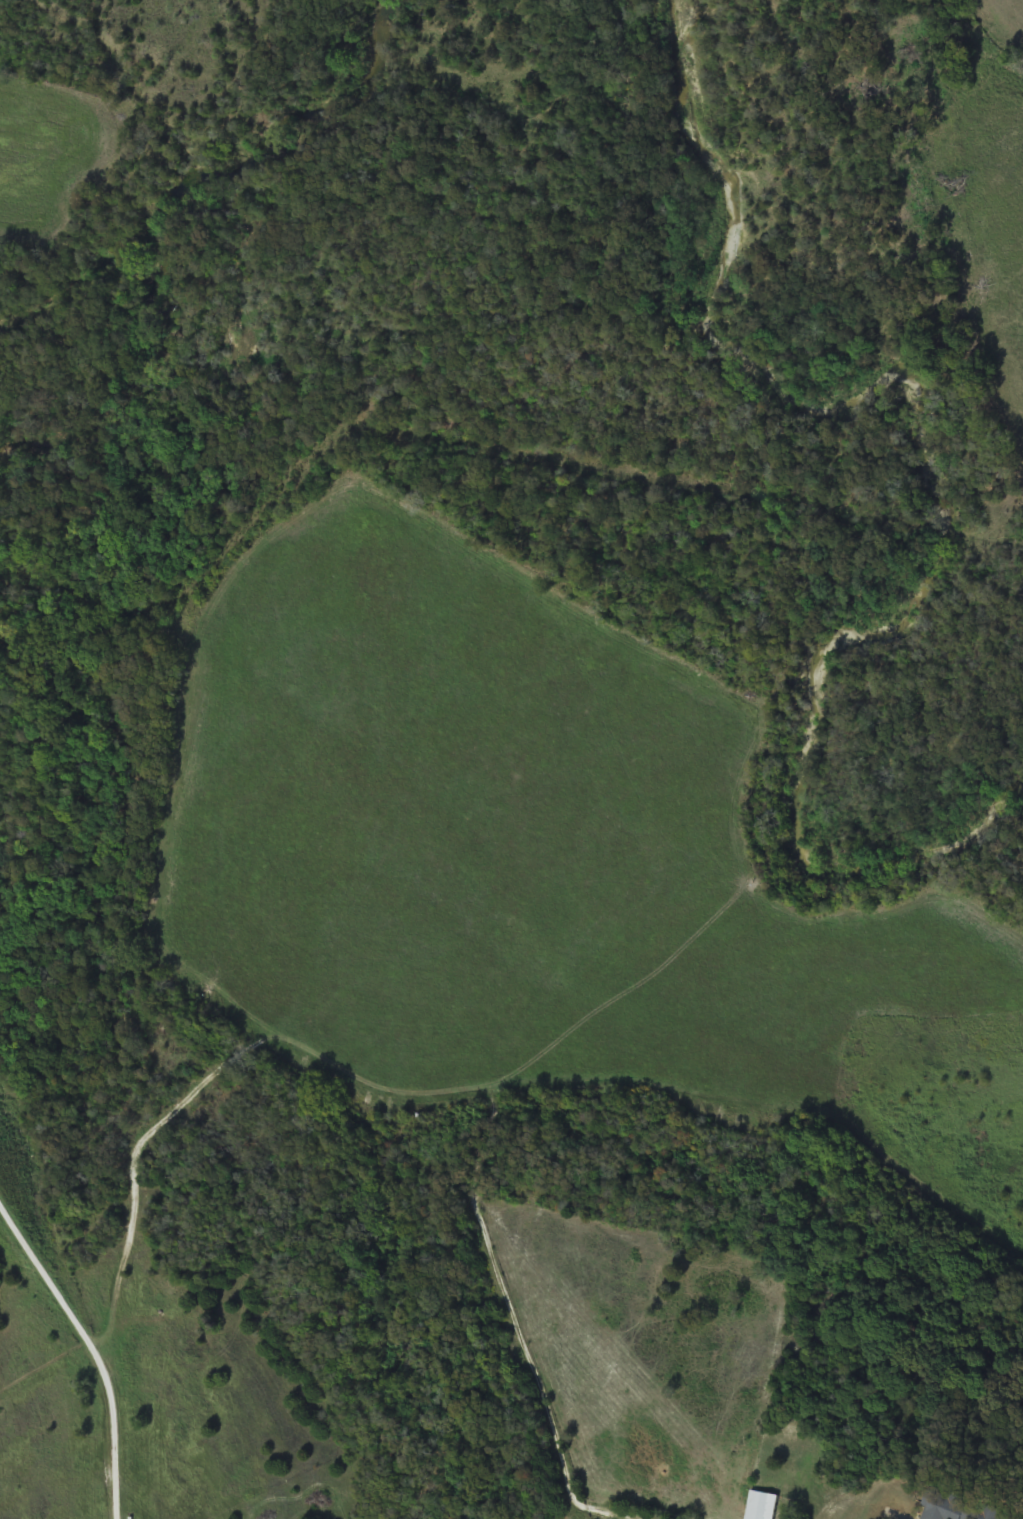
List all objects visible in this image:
building: (762, 1505)
building: (948, 1506)

